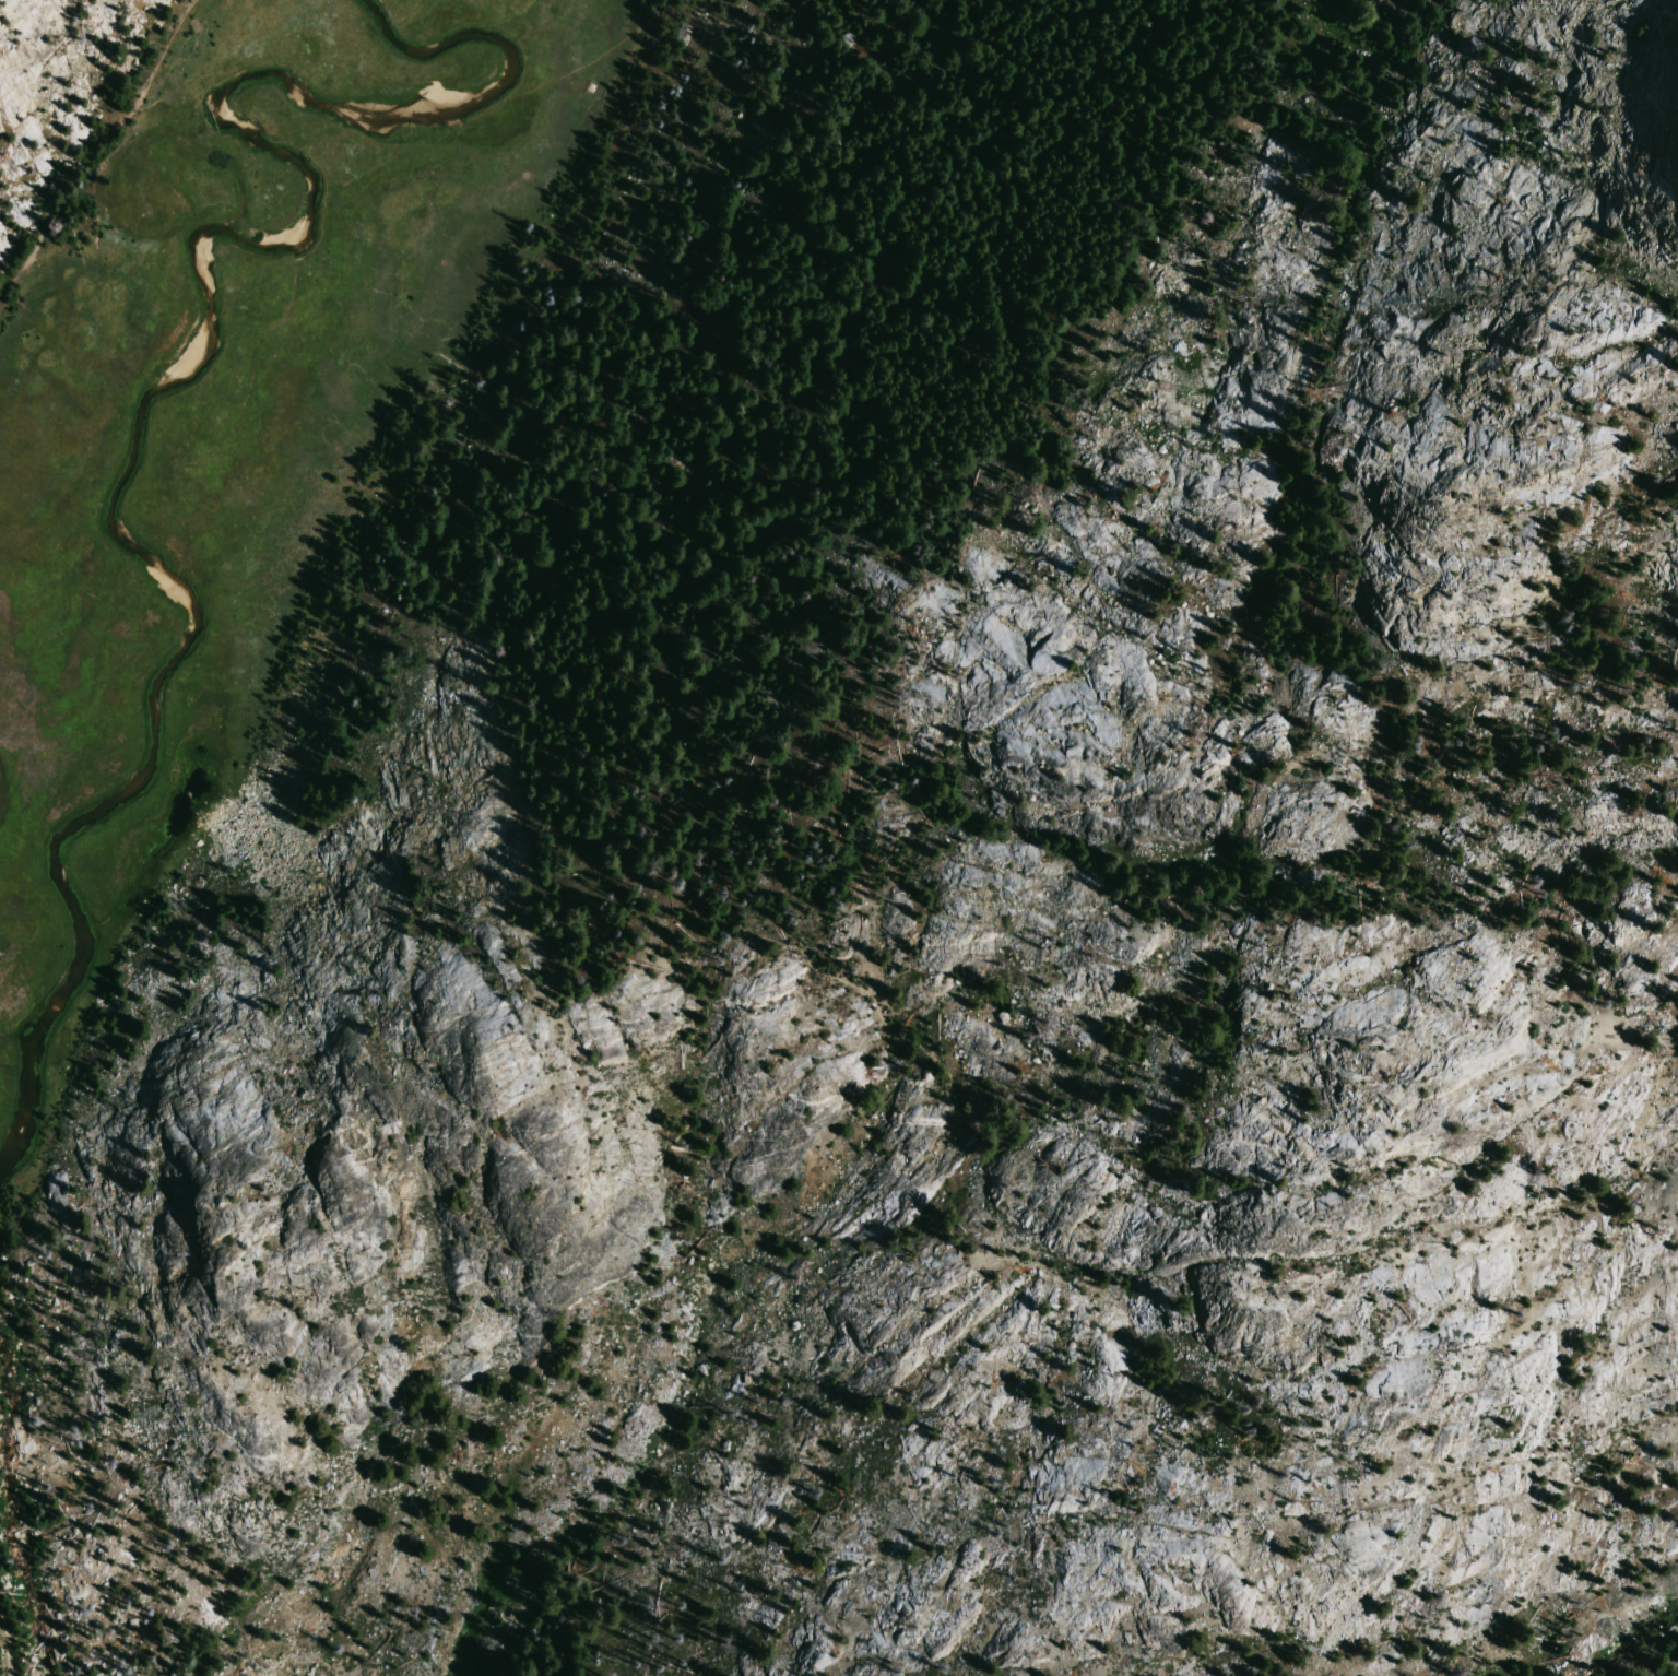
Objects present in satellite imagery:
road: (157, 64)
road: (57, 210)
road: (720, 612)
road: (8, 1643)

